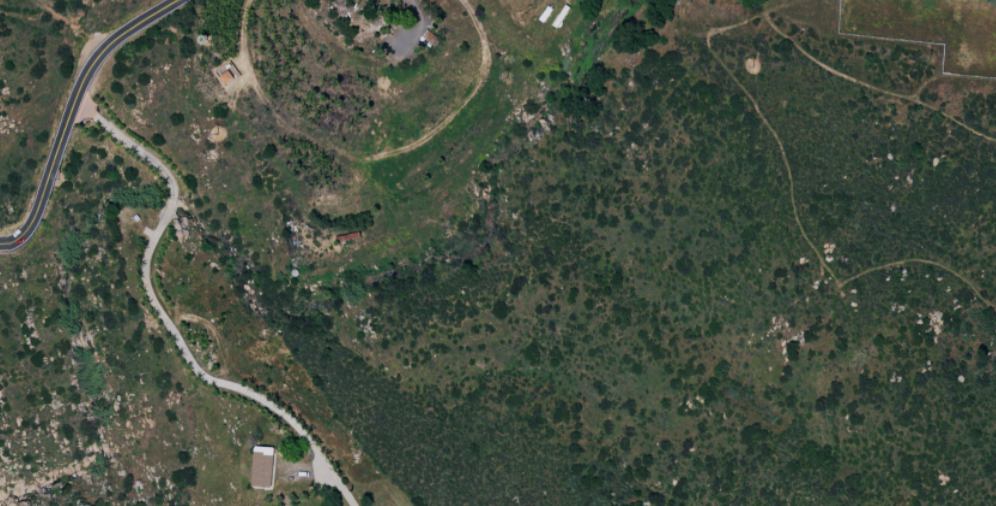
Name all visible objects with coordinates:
road: (420, 12)
road: (242, 34)
building: (429, 37)
road: (70, 111)
road: (164, 317)
building: (263, 466)

